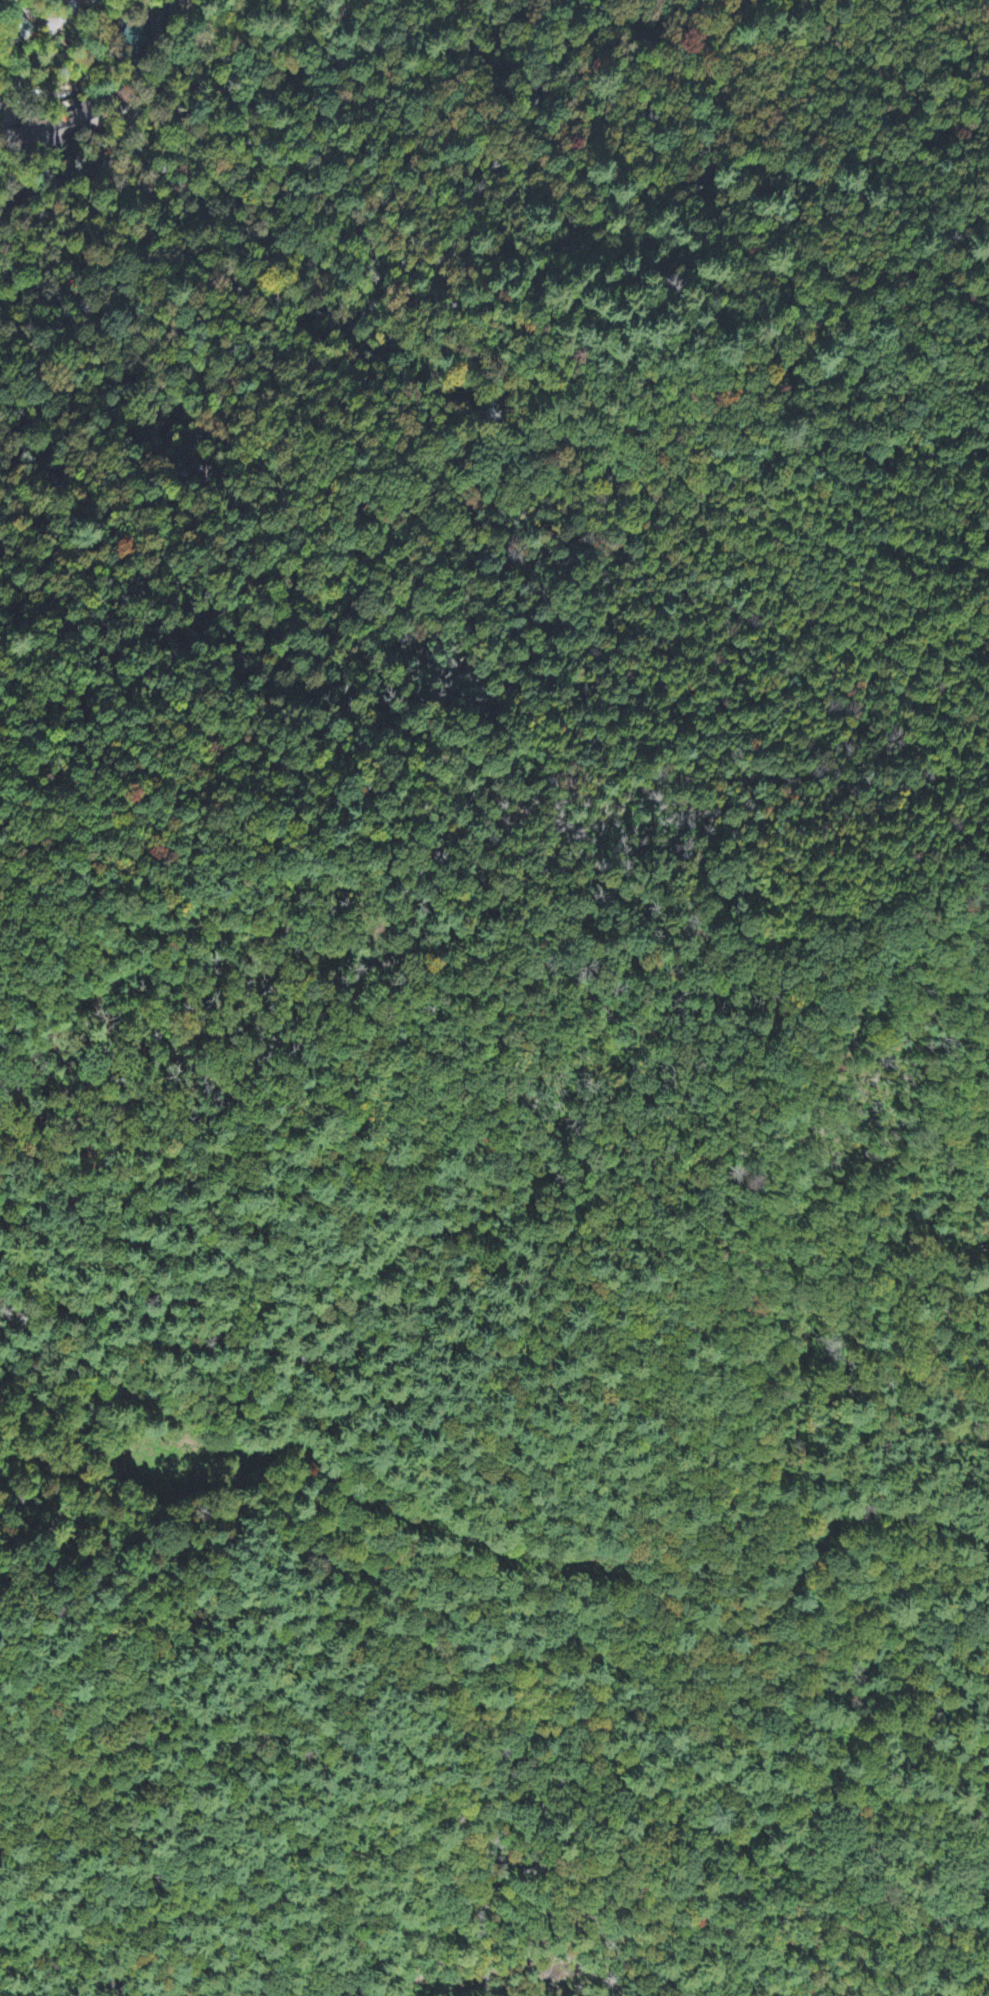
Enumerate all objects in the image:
road: (242, 14)
building: (18, 28)
road: (171, 43)
building: (72, 125)
road: (90, 166)
road: (490, 1545)

